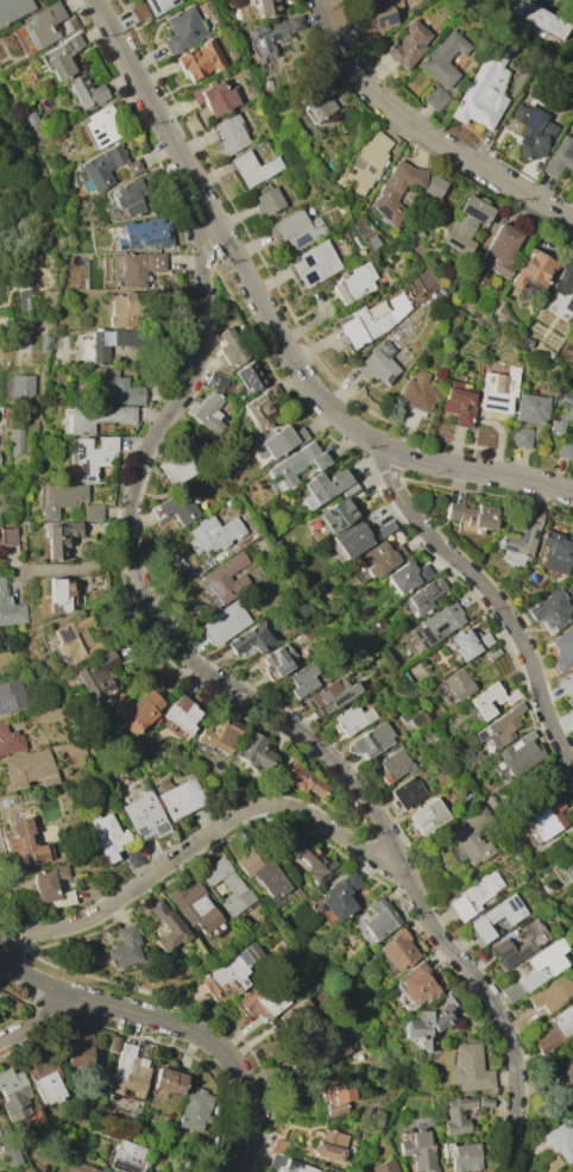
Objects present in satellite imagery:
building: (150, 7)
building: (12, 8)
building: (265, 8)
building: (379, 15)
building: (537, 17)
building: (44, 23)
building: (183, 30)
building: (272, 35)
building: (405, 45)
building: (59, 56)
building: (442, 57)
building: (200, 59)
building: (483, 89)
building: (86, 92)
building: (435, 98)
building: (215, 99)
building: (316, 101)
building: (27, 114)
building: (99, 127)
building: (531, 131)
building: (228, 133)
road: (424, 134)
building: (559, 156)
building: (366, 162)
building: (105, 167)
building: (256, 168)
building: (433, 187)
building: (395, 190)
building: (132, 194)
building: (267, 201)
building: (465, 225)
building: (295, 230)
building: (143, 233)
building: (499, 250)
building: (313, 264)
building: (139, 267)
building: (531, 270)
building: (357, 282)
building: (565, 287)
road: (251, 288)
building: (23, 301)
building: (127, 308)
building: (370, 321)
building: (525, 341)
building: (43, 343)
building: (111, 343)
building: (227, 347)
building: (377, 364)
building: (247, 377)
building: (215, 381)
building: (21, 387)
building: (120, 388)
building: (497, 389)
building: (417, 393)
building: (458, 402)
building: (259, 407)
building: (530, 408)
building: (561, 410)
building: (206, 412)
building: (96, 418)
building: (520, 435)
building: (14, 440)
building: (277, 441)
building: (563, 449)
building: (93, 456)
building: (177, 463)
building: (294, 466)
road: (535, 482)
building: (326, 487)
building: (59, 499)
building: (177, 507)
building: (92, 512)
building: (259, 514)
building: (471, 514)
building: (334, 515)
building: (212, 533)
building: (6, 535)
building: (358, 537)
building: (58, 538)
building: (520, 538)
building: (555, 551)
building: (378, 558)
road: (73, 566)
building: (572, 566)
building: (407, 576)
building: (222, 581)
building: (56, 595)
building: (424, 595)
road: (491, 597)
building: (10, 610)
building: (549, 610)
road: (68, 613)
building: (223, 622)
building: (435, 625)
building: (73, 638)
building: (253, 638)
building: (468, 643)
building: (562, 650)
building: (491, 653)
building: (277, 659)
building: (94, 675)
building: (302, 679)
building: (566, 683)
building: (458, 684)
building: (11, 695)
building: (329, 695)
building: (478, 701)
road: (259, 706)
building: (572, 709)
building: (136, 712)
building: (180, 714)
building: (351, 719)
building: (499, 727)
building: (219, 734)
building: (372, 739)
building: (10, 740)
building: (253, 751)
building: (518, 754)
building: (392, 765)
building: (27, 769)
building: (301, 777)
building: (405, 792)
building: (181, 798)
building: (144, 815)
building: (426, 816)
building: (547, 817)
building: (106, 835)
building: (471, 835)
building: (21, 842)
road: (202, 845)
building: (132, 857)
building: (310, 861)
building: (569, 863)
building: (260, 870)
building: (50, 885)
building: (227, 885)
building: (572, 886)
building: (472, 895)
building: (339, 896)
building: (195, 908)
building: (495, 916)
building: (378, 919)
building: (166, 926)
building: (520, 942)
building: (122, 948)
building: (396, 949)
building: (542, 965)
building: (231, 971)
building: (415, 984)
building: (552, 994)
building: (262, 999)
road: (38, 1021)
building: (429, 1023)
road: (172, 1024)
building: (554, 1030)
building: (138, 1042)
building: (113, 1043)
building: (336, 1048)
building: (80, 1051)
building: (468, 1068)
building: (127, 1071)
building: (566, 1076)
building: (42, 1078)
building: (166, 1082)
building: (17, 1096)
building: (334, 1096)
building: (484, 1102)
building: (195, 1109)
building: (456, 1116)
building: (560, 1139)
building: (328, 1146)
building: (10, 1152)
building: (417, 1152)
building: (461, 1155)
building: (128, 1157)
building: (296, 1166)
building: (383, 1166)
building: (80, 1167)

